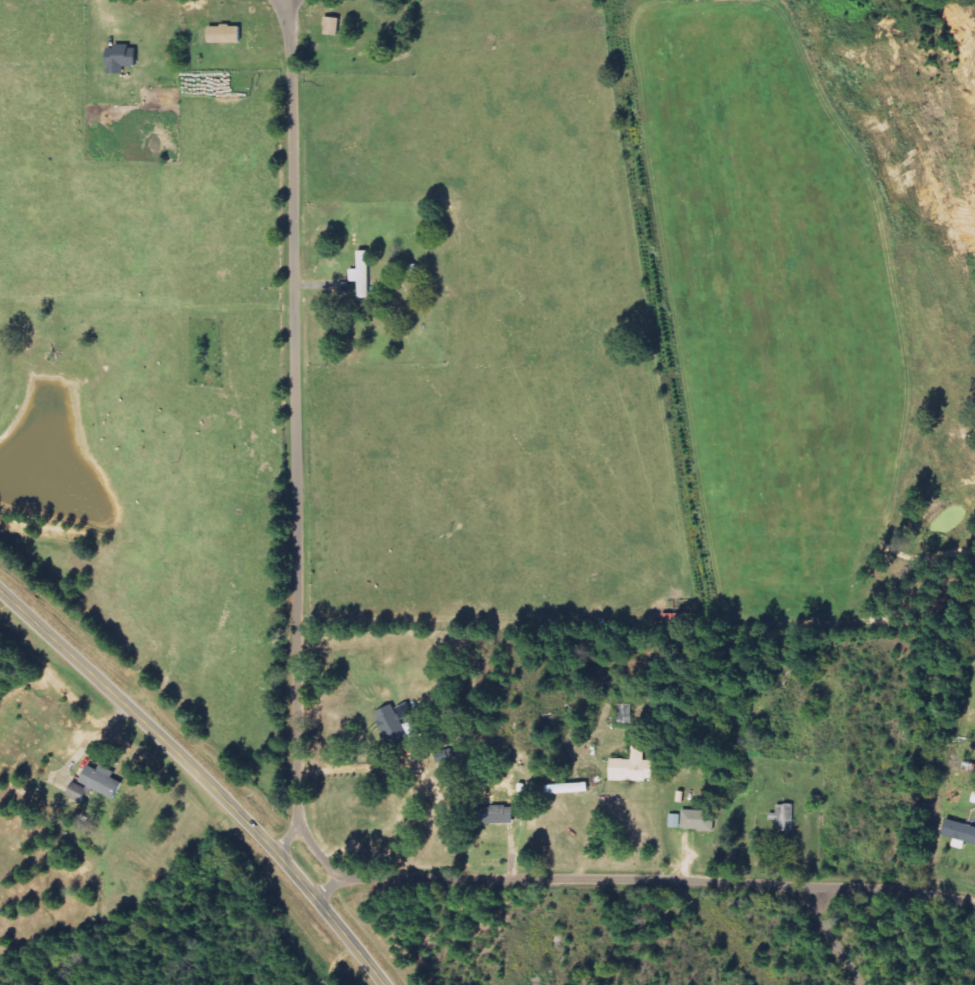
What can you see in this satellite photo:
building: (332, 27)
building: (225, 34)
building: (123, 59)
building: (363, 275)
building: (393, 727)
building: (634, 768)
road: (203, 776)
road: (269, 778)
building: (102, 781)
building: (564, 789)
building: (78, 794)
building: (497, 815)
building: (699, 821)
building: (960, 832)
road: (283, 844)
road: (827, 953)

